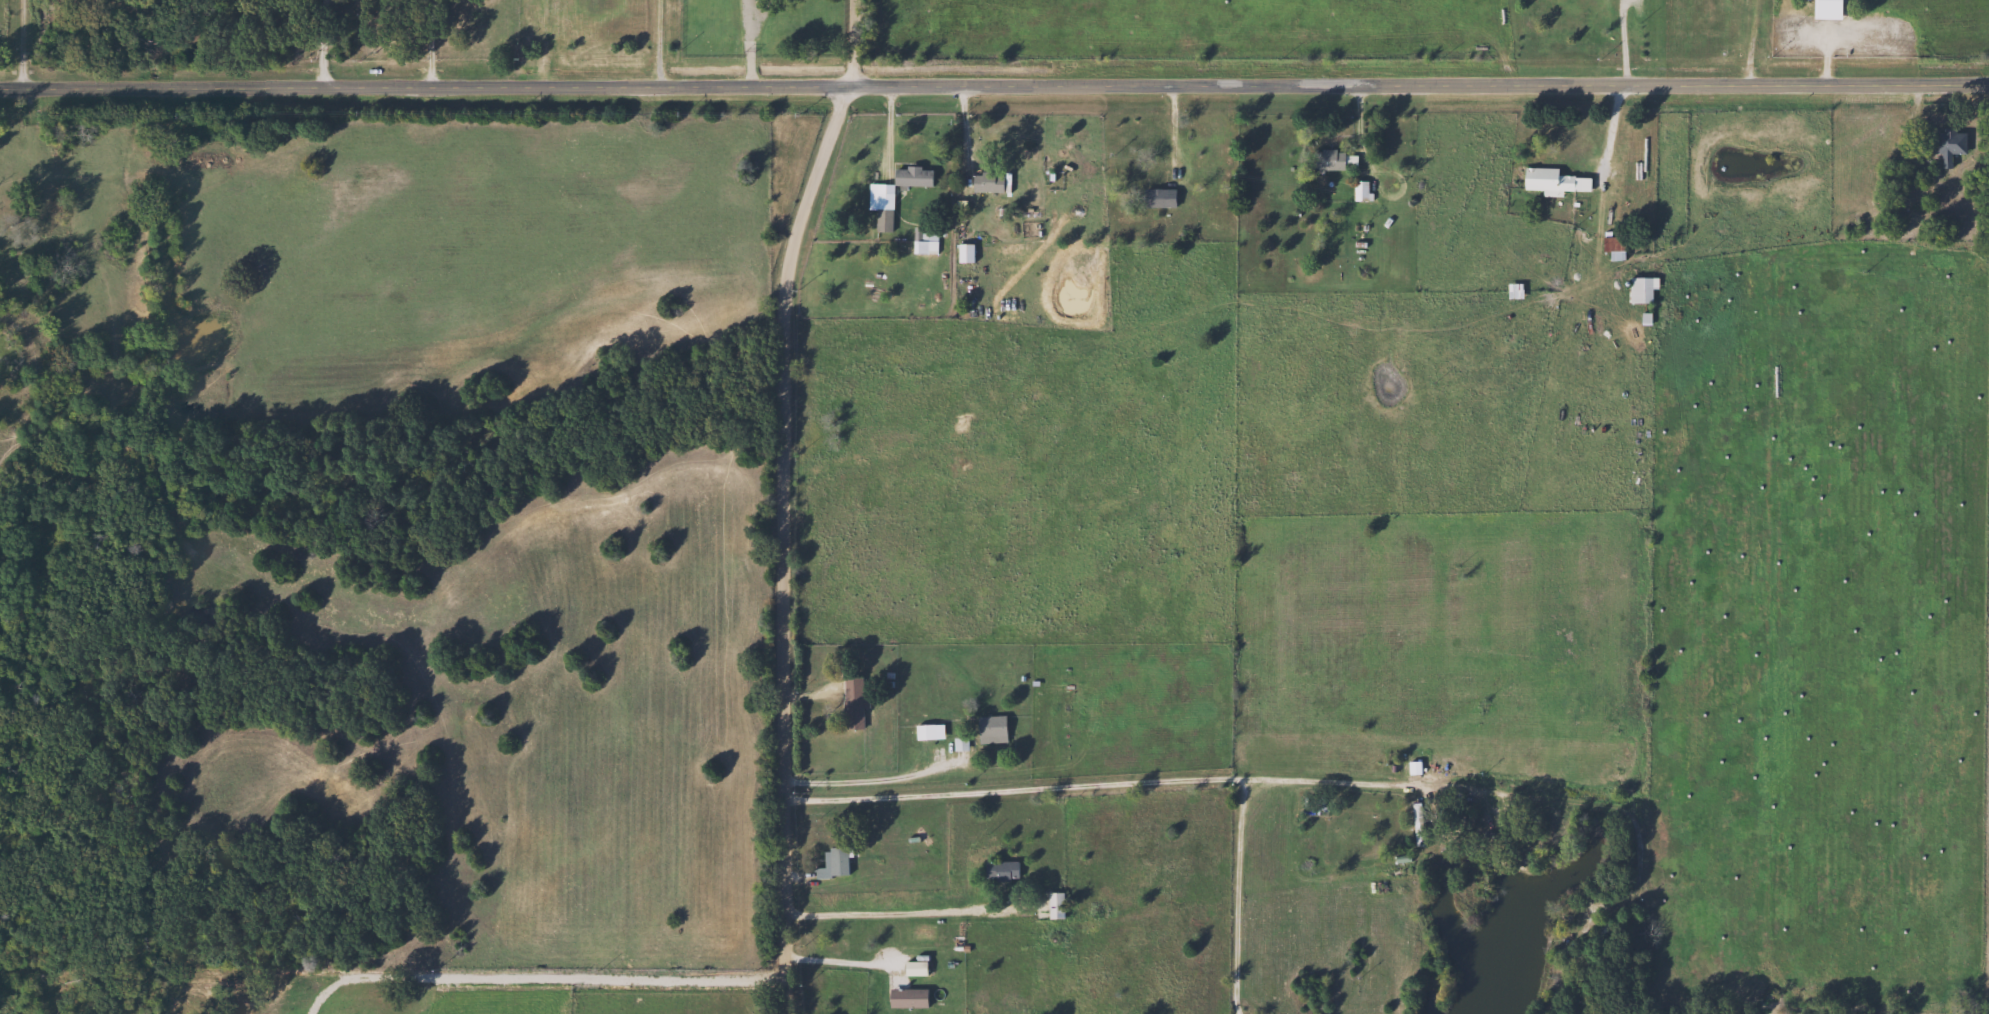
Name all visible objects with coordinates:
building: (1829, 6)
road: (431, 39)
road: (658, 39)
road: (747, 39)
road: (849, 39)
road: (1622, 39)
road: (323, 40)
road: (26, 41)
road: (994, 77)
building: (1944, 145)
building: (1329, 158)
road: (1602, 172)
building: (910, 176)
building: (1549, 180)
building: (985, 182)
building: (1358, 190)
building: (1155, 196)
building: (880, 211)
building: (1610, 247)
building: (962, 253)
building: (1637, 289)
building: (1512, 291)
road: (786, 541)
building: (850, 703)
building: (988, 728)
building: (921, 731)
road: (872, 779)
road: (1257, 780)
building: (1414, 821)
building: (919, 836)
building: (831, 862)
building: (998, 870)
road: (1239, 897)
building: (1052, 904)
road: (884, 915)
road: (836, 960)
road: (606, 968)
building: (911, 968)
building: (903, 997)

